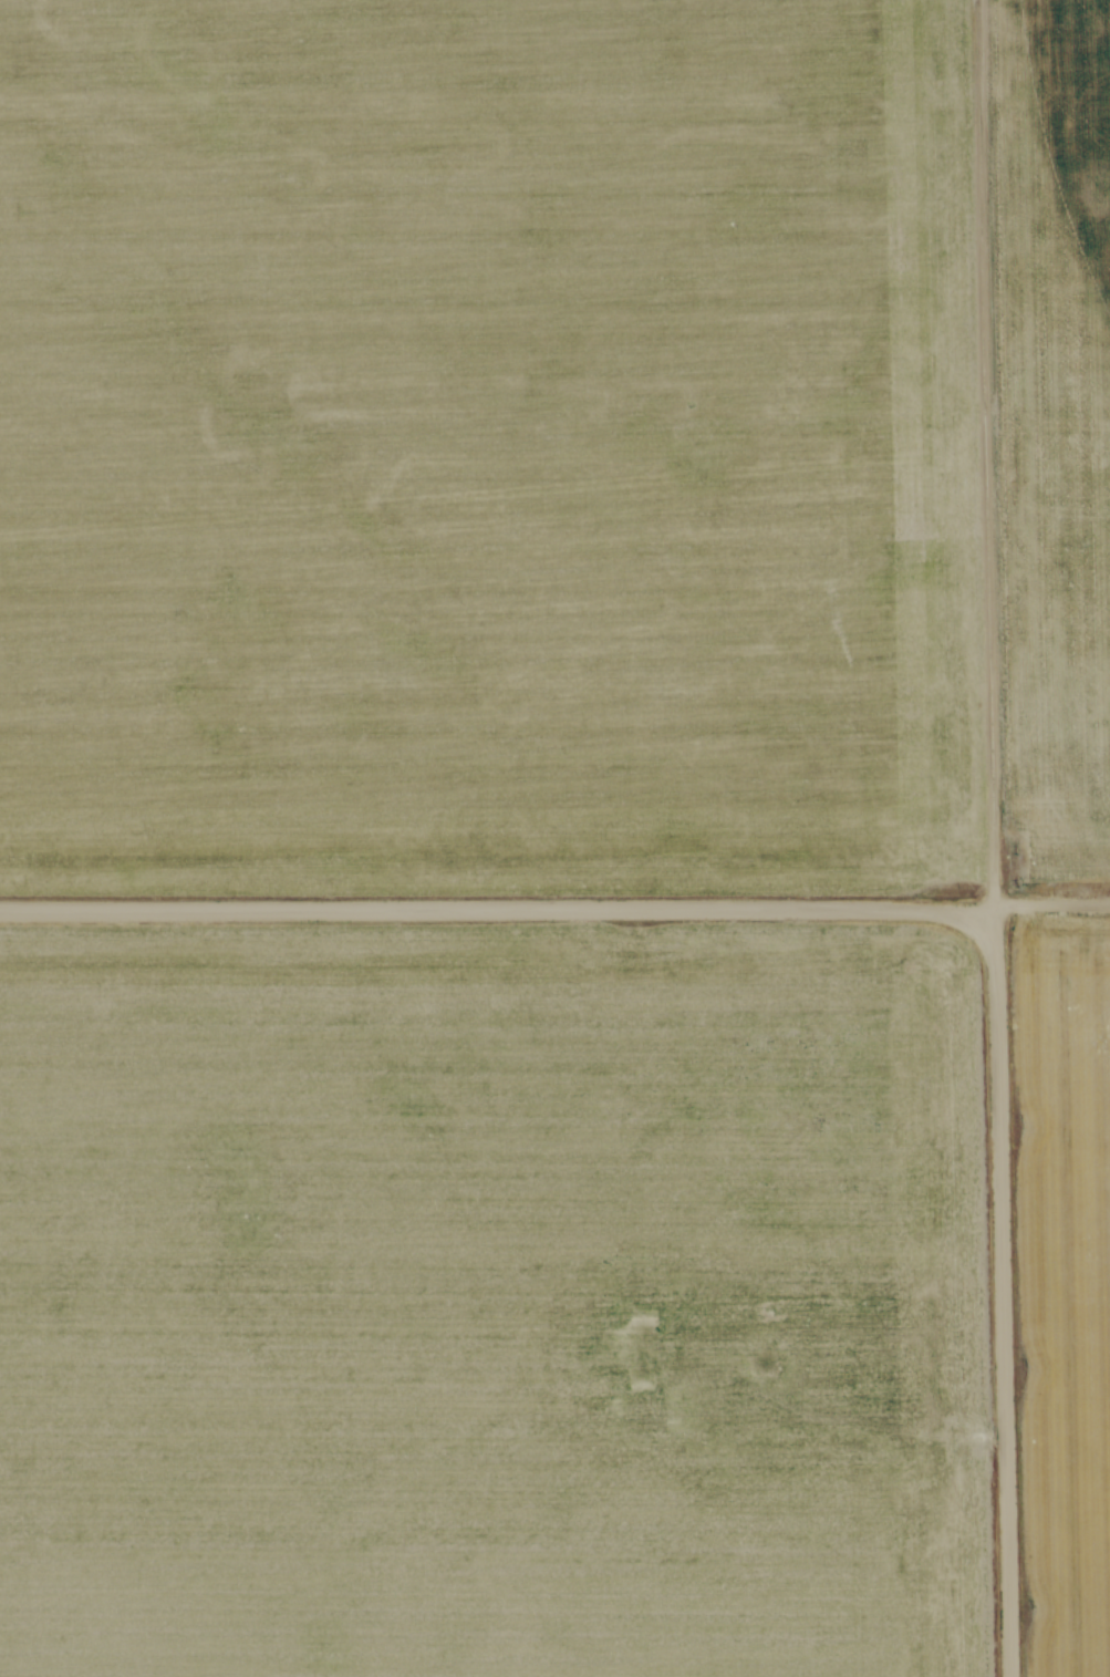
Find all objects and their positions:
crop: (488, 449)
road: (988, 838)
road: (554, 911)
crop: (1064, 1286)
crop: (464, 1297)
building: (601, 1347)
building: (770, 1347)
building: (685, 1411)
road: (841, 1415)

